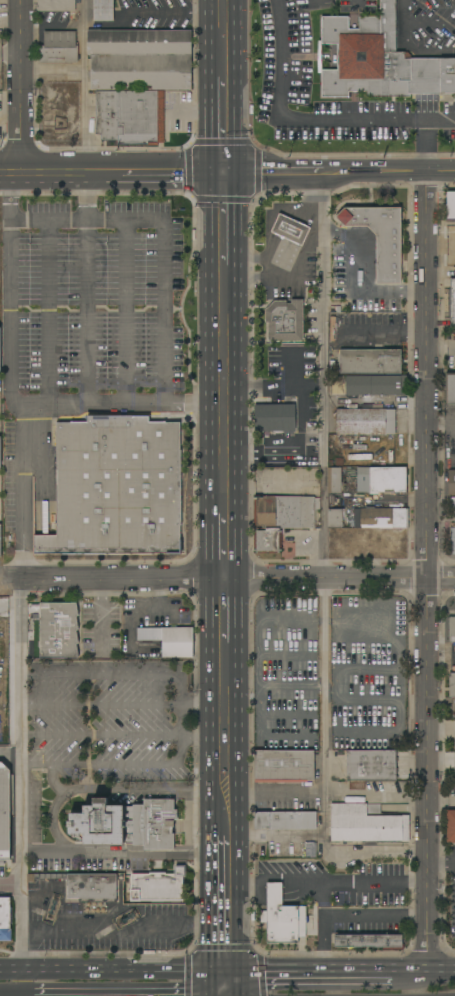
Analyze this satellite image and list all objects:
road: (316, 2)
road: (357, 2)
building: (56, 6)
building: (103, 10)
road: (151, 12)
road: (416, 24)
road: (83, 34)
road: (223, 39)
building: (59, 48)
building: (379, 59)
building: (140, 60)
road: (52, 69)
road: (18, 86)
building: (106, 115)
road: (293, 116)
building: (140, 117)
road: (87, 121)
road: (223, 125)
road: (425, 132)
road: (111, 172)
traffic signals: (223, 172)
road: (339, 172)
building: (451, 205)
road: (223, 218)
building: (290, 230)
building: (380, 238)
road: (360, 275)
road: (86, 287)
building: (451, 303)
road: (166, 309)
road: (125, 312)
road: (47, 313)
building: (285, 321)
road: (386, 331)
road: (440, 348)
building: (370, 362)
road: (291, 371)
road: (19, 375)
building: (370, 385)
road: (273, 387)
road: (223, 389)
building: (450, 389)
road: (194, 403)
building: (372, 406)
building: (275, 417)
building: (366, 422)
building: (312, 440)
building: (0, 453)
building: (293, 460)
building: (381, 479)
building: (334, 480)
building: (451, 483)
building: (116, 488)
building: (452, 507)
building: (281, 518)
building: (334, 518)
building: (372, 535)
building: (0, 540)
building: (452, 540)
road: (223, 546)
road: (324, 560)
road: (425, 572)
road: (10, 578)
road: (238, 579)
road: (223, 611)
building: (452, 623)
building: (58, 630)
building: (170, 640)
building: (386, 645)
building: (454, 645)
road: (114, 673)
building: (452, 685)
road: (2, 686)
road: (224, 690)
road: (123, 704)
building: (290, 725)
road: (122, 736)
road: (125, 763)
road: (224, 763)
building: (371, 765)
building: (283, 766)
road: (52, 767)
road: (23, 777)
building: (356, 785)
road: (109, 790)
road: (275, 792)
road: (440, 803)
building: (4, 812)
road: (224, 813)
building: (285, 820)
building: (366, 823)
building: (127, 824)
building: (450, 826)
road: (274, 836)
road: (224, 847)
road: (124, 855)
road: (440, 864)
road: (225, 868)
road: (274, 879)
road: (374, 882)
building: (83, 885)
building: (158, 886)
road: (12, 887)
petroleum well: (52, 907)
road: (357, 914)
building: (282, 918)
petroleum well: (126, 919)
building: (5, 920)
road: (225, 926)
road: (124, 932)
building: (367, 941)
road: (323, 944)
road: (409, 973)
road: (441, 973)
road: (105, 974)
road: (218, 974)
traffic signals: (226, 974)
road: (308, 974)
road: (220, 985)
road: (225, 985)
road: (230, 985)

